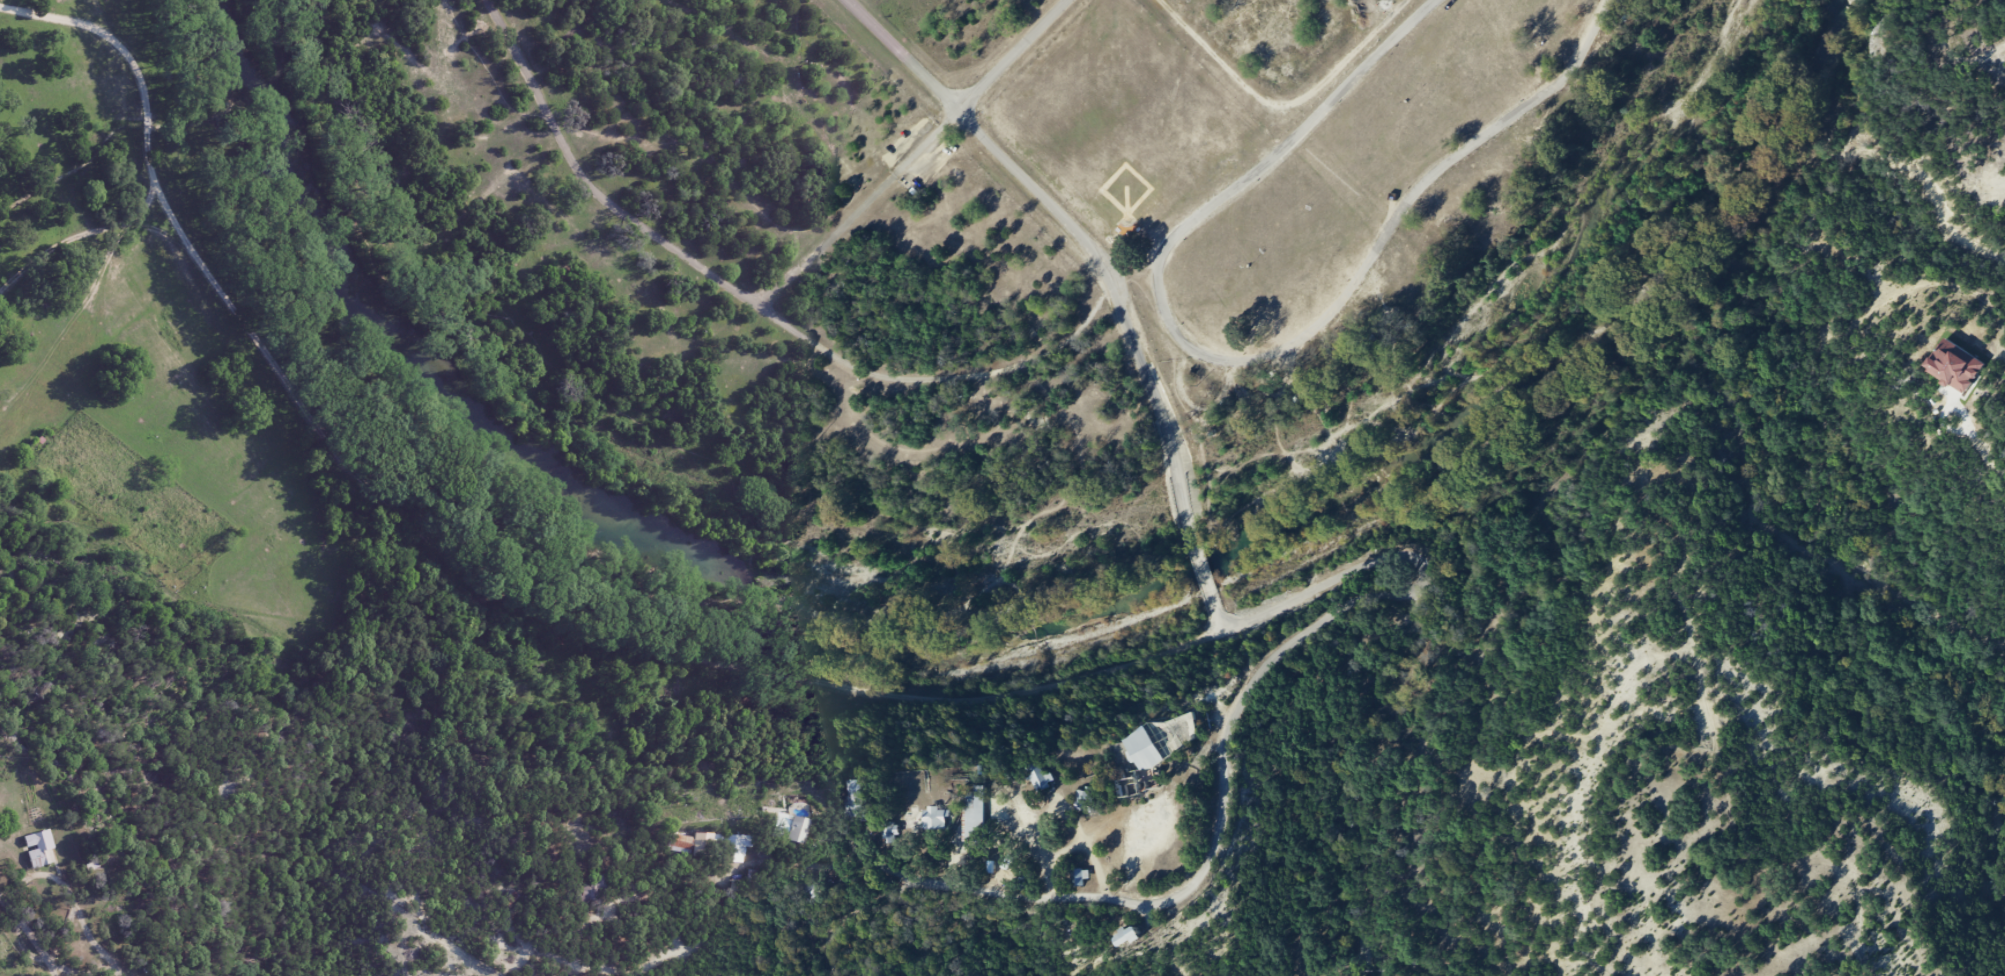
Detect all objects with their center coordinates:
road: (1019, 54)
road: (515, 67)
road: (1287, 154)
road: (865, 207)
road: (1062, 223)
road: (76, 240)
road: (1383, 241)
road: (700, 267)
road: (1197, 517)
road: (479, 555)
road: (1210, 559)
road: (1219, 586)
river: (1003, 624)
building: (1154, 739)
building: (1031, 775)
road: (1218, 798)
building: (971, 811)
building: (931, 817)
building: (786, 831)
building: (678, 843)
building: (731, 848)
building: (38, 849)
building: (1075, 877)
road: (661, 912)
road: (676, 927)
road: (24, 933)
road: (657, 968)
road: (626, 973)

